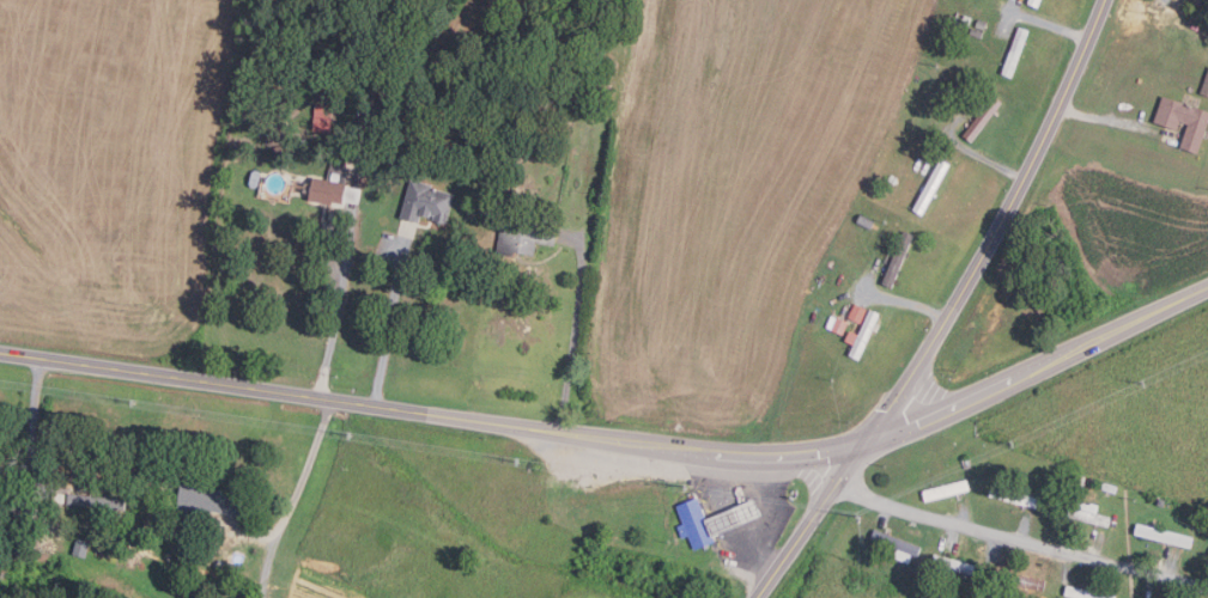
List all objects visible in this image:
building: (1034, 1)
building: (1197, 2)
building: (1207, 17)
building: (960, 23)
building: (981, 24)
road: (1049, 24)
building: (976, 32)
building: (1015, 51)
building: (1206, 86)
building: (558, 87)
building: (946, 94)
building: (536, 96)
building: (472, 100)
building: (322, 110)
building: (983, 117)
road: (1112, 120)
building: (1184, 121)
building: (321, 126)
building: (287, 147)
building: (278, 149)
road: (990, 161)
building: (892, 179)
building: (333, 187)
building: (931, 187)
building: (424, 203)
building: (864, 221)
building: (524, 237)
building: (898, 260)
road: (902, 299)
road: (340, 304)
road: (954, 311)
building: (856, 313)
road: (390, 323)
building: (836, 325)
road: (573, 329)
building: (861, 335)
power tower: (1146, 384)
power tower: (136, 405)
road: (35, 431)
power tower: (352, 438)
road: (619, 440)
power tower: (1008, 446)
power tower: (518, 464)
building: (1080, 480)
building: (1092, 481)
power tower: (687, 488)
building: (1109, 488)
building: (946, 490)
building: (1012, 496)
road: (295, 499)
building: (87, 500)
building: (207, 501)
building: (1083, 515)
building: (732, 518)
power tower: (858, 519)
road: (733, 520)
building: (693, 524)
road: (250, 531)
building: (1163, 536)
road: (1021, 541)
building: (896, 545)
building: (80, 548)
building: (952, 565)
building: (1016, 579)
building: (1082, 593)

